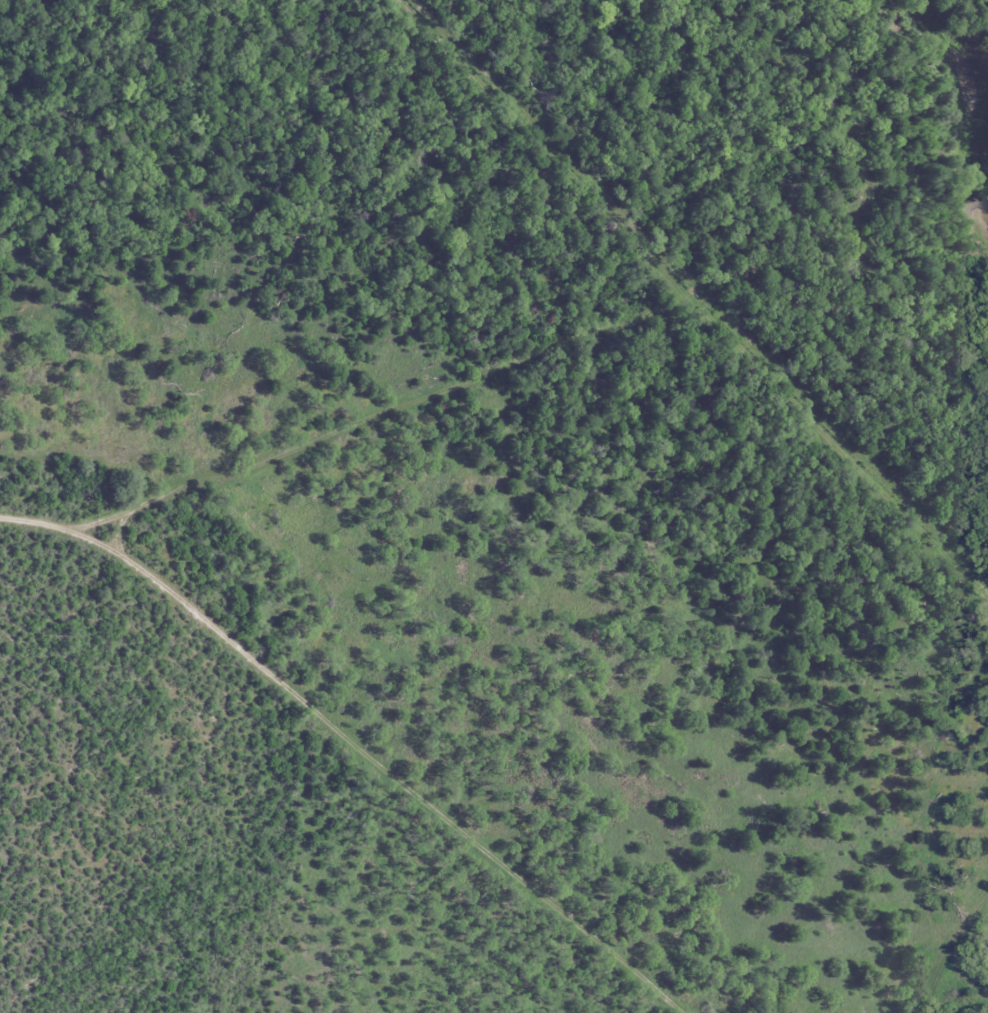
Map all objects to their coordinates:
river: (968, 47)
river: (985, 156)
road: (354, 750)

